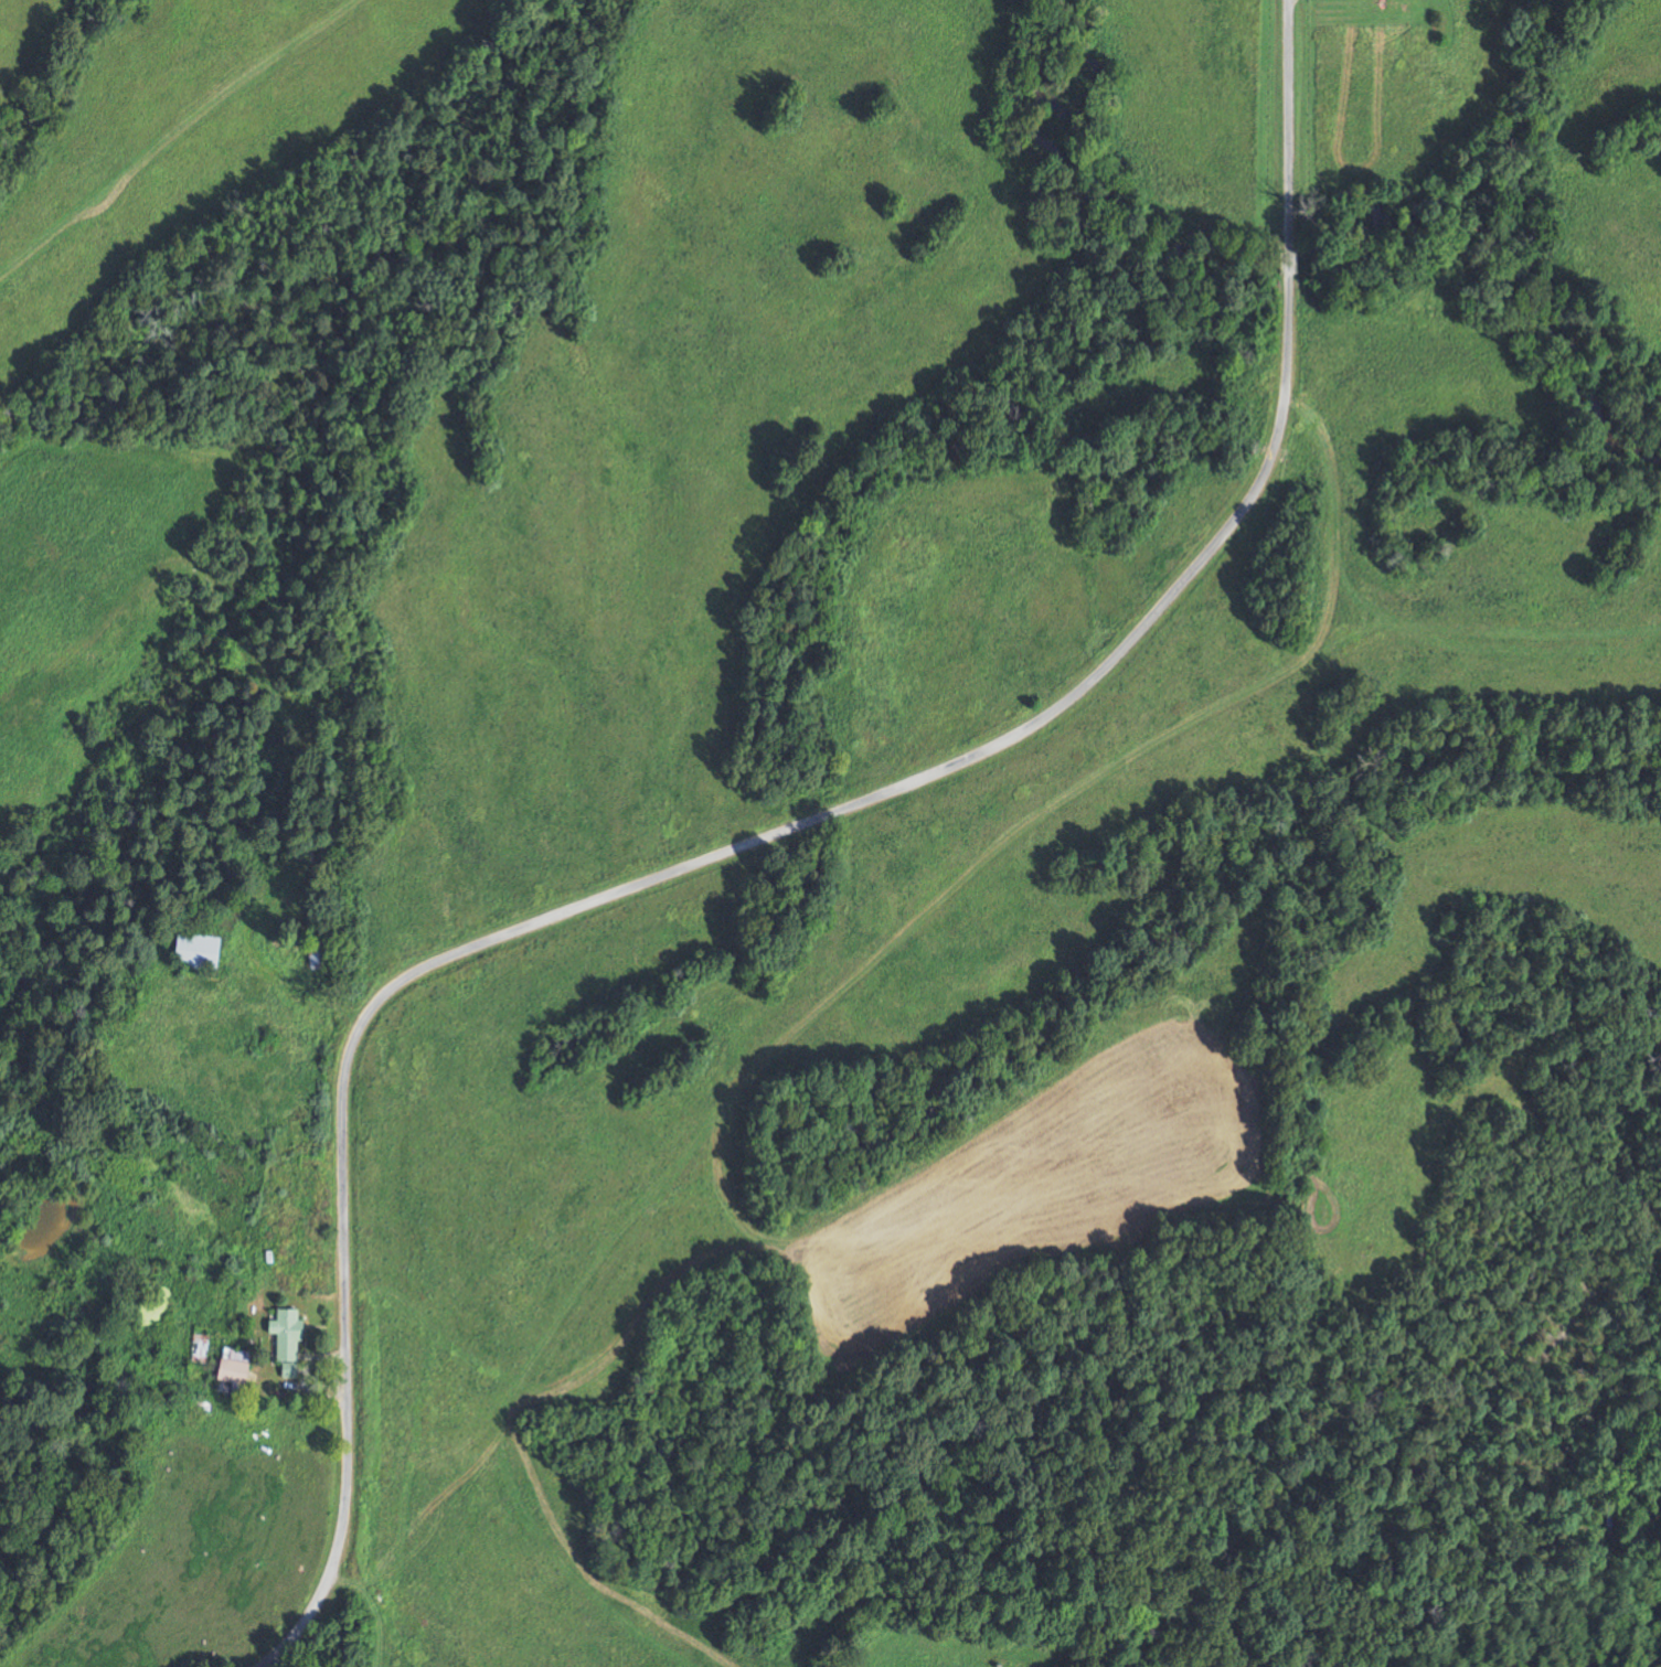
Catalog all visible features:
road: (290, 707)
road: (755, 836)
building: (319, 950)
building: (199, 951)
building: (289, 1334)
building: (236, 1371)
road: (307, 1374)

